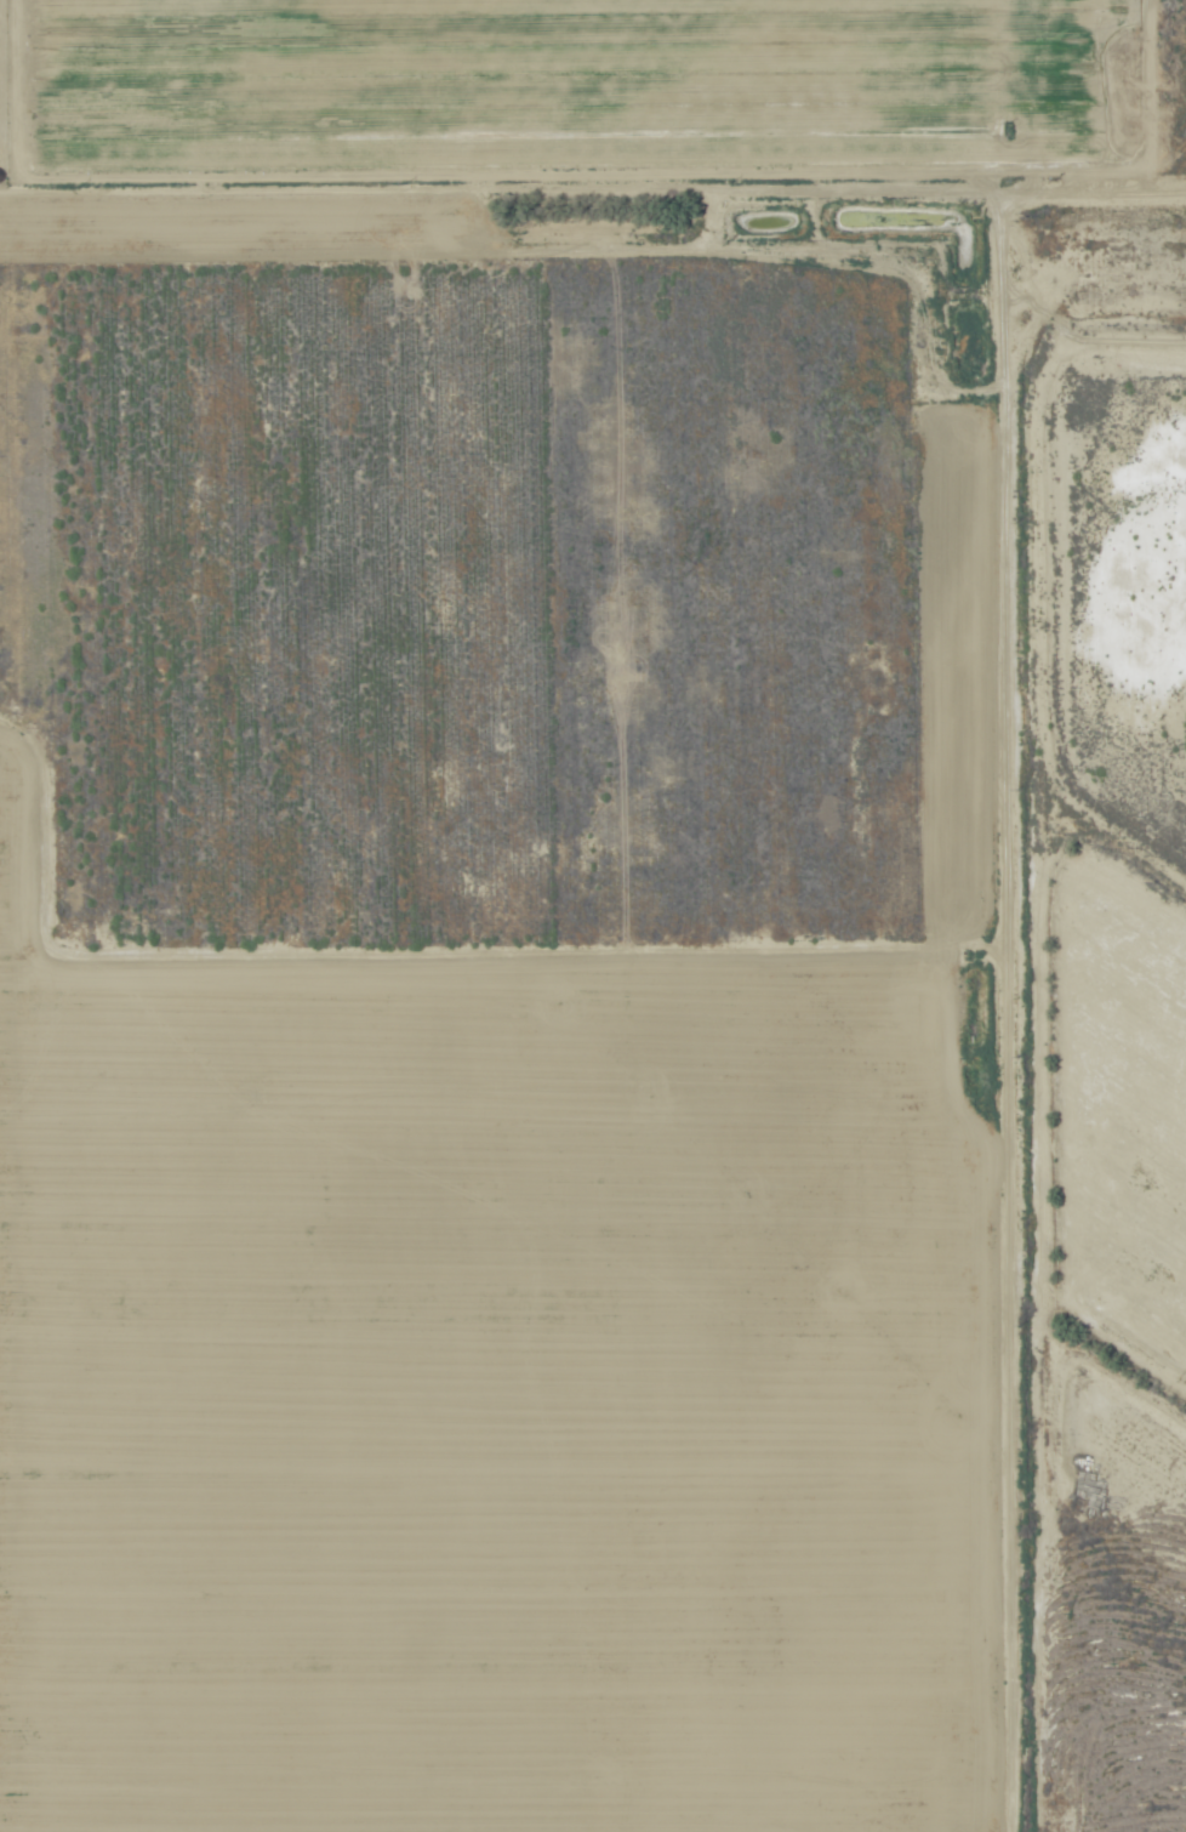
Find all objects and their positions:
building: (1154, 1718)

